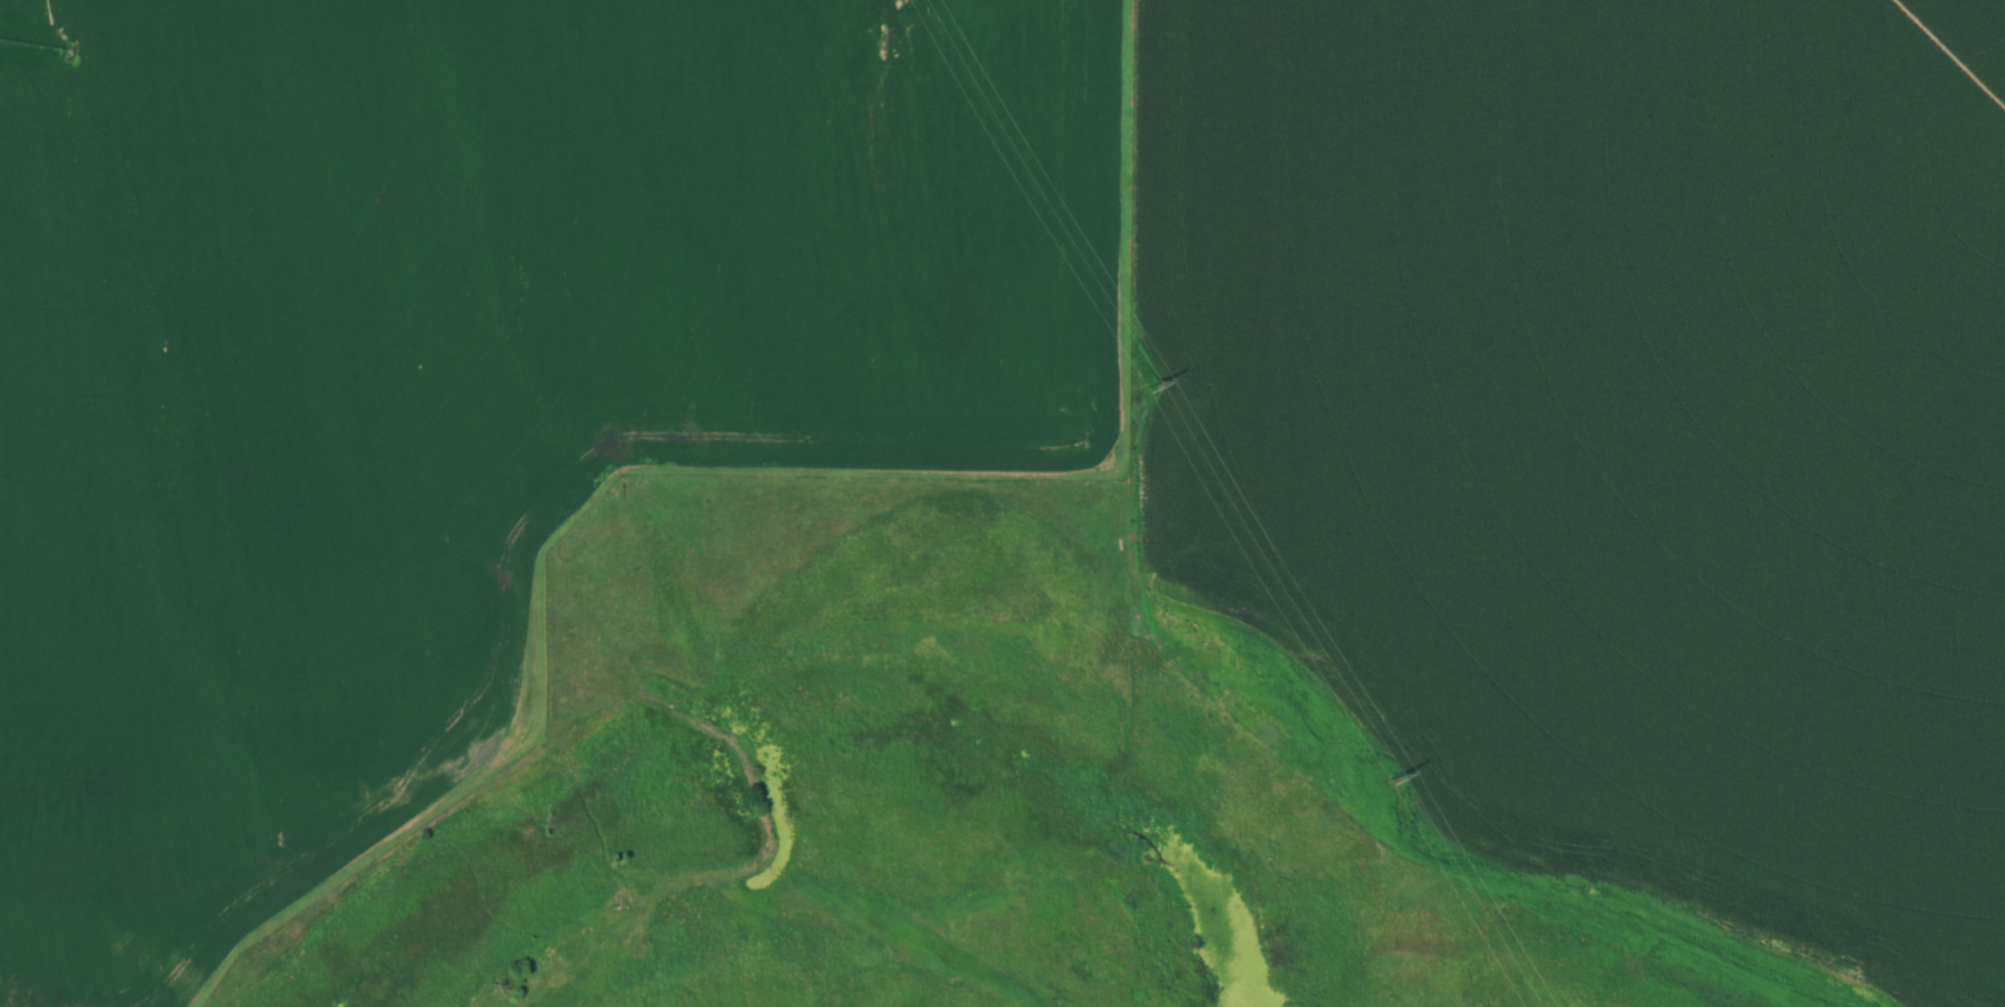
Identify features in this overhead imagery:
power tower: (1153, 385)
crop: (1609, 442)
power tower: (1386, 777)

